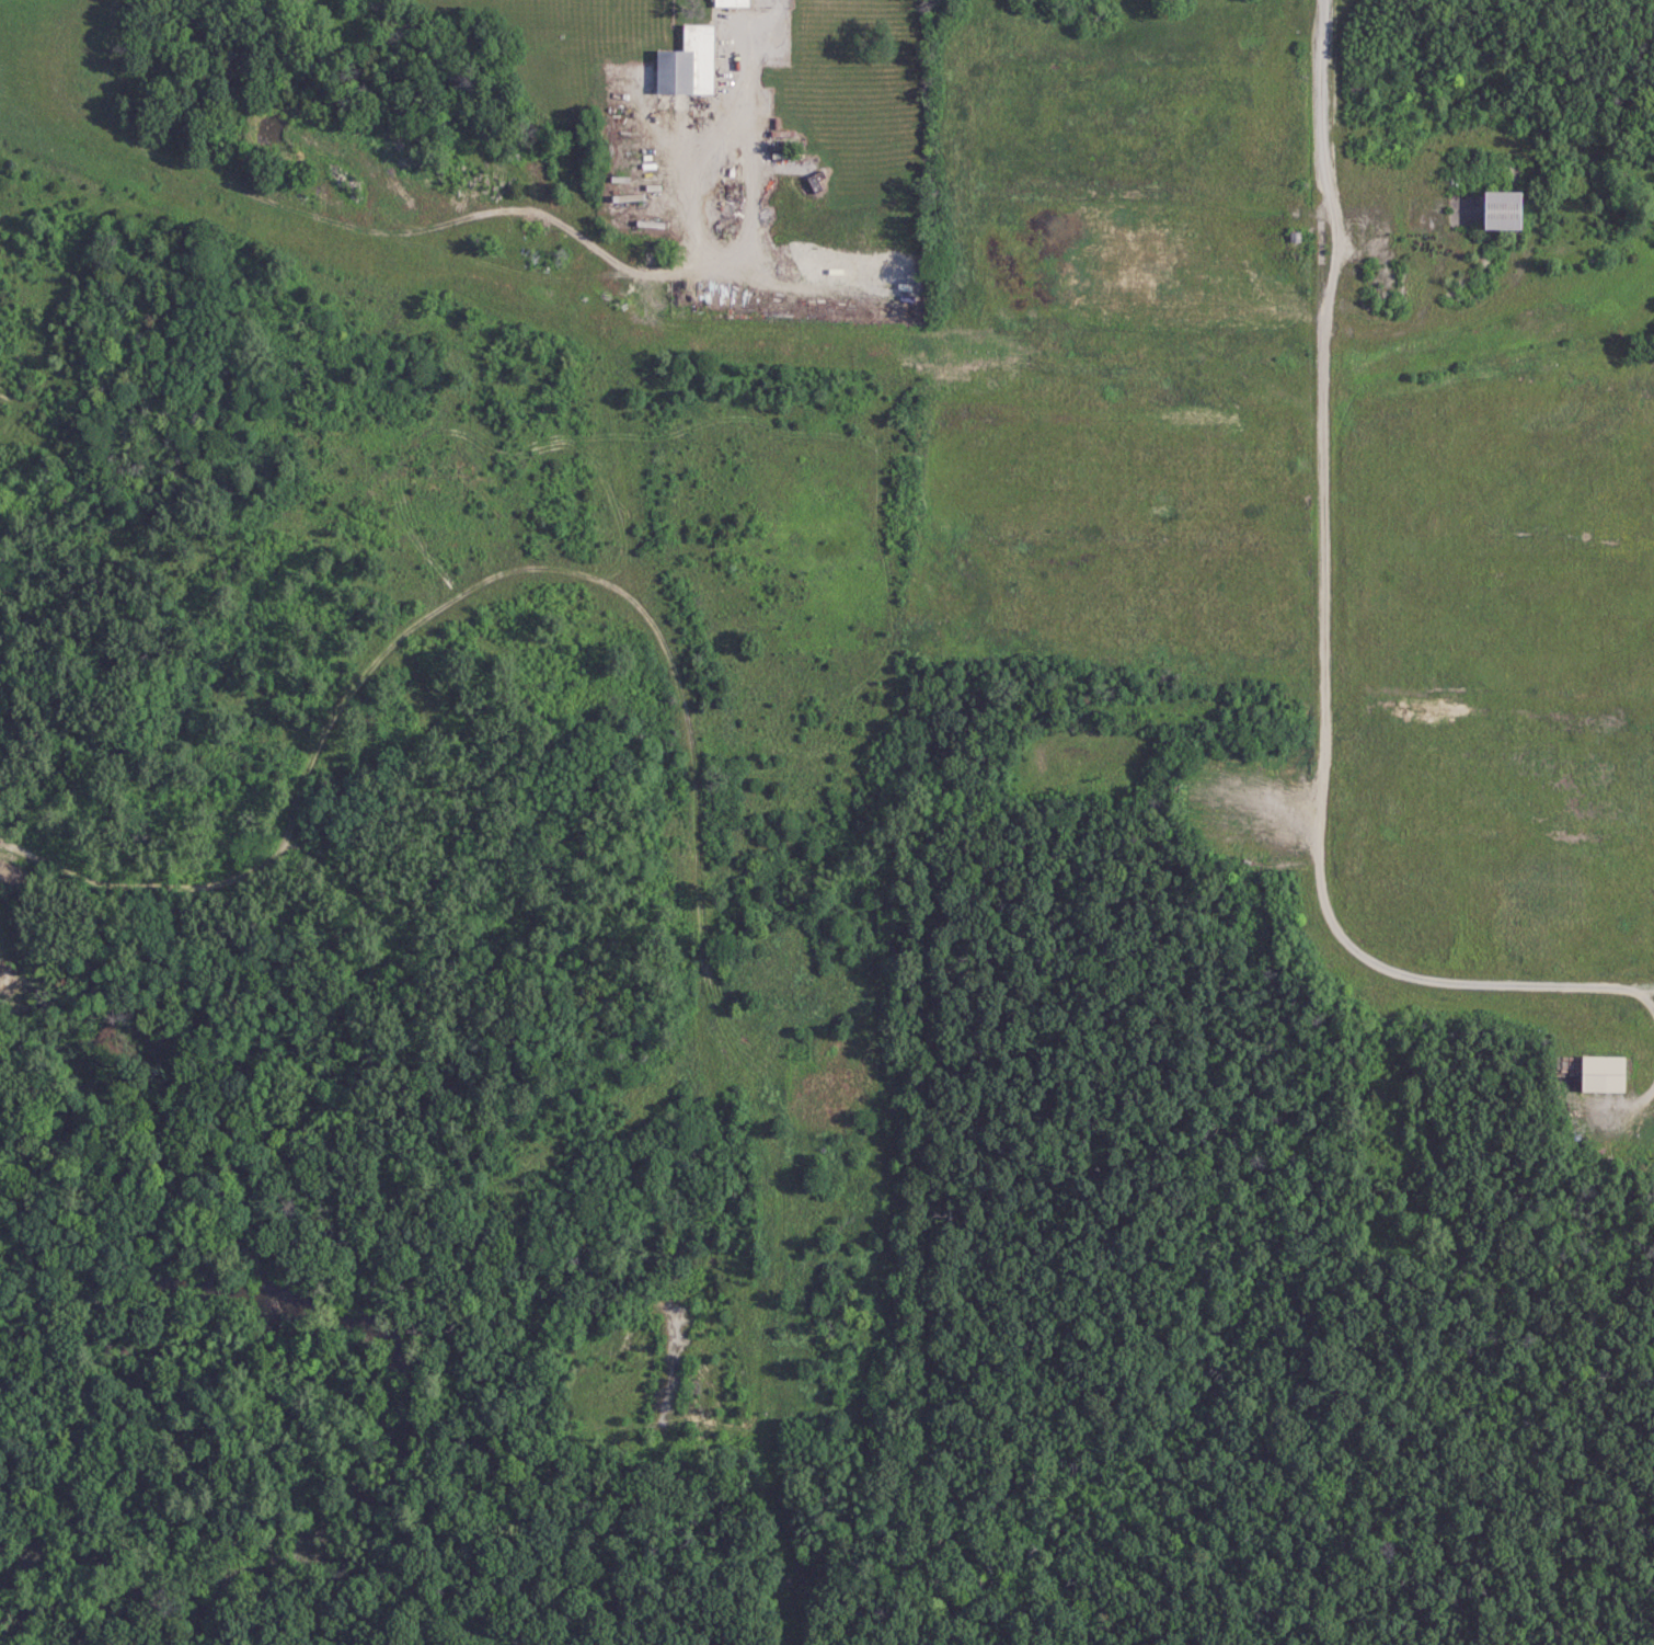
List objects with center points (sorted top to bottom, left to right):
building: (731, 2)
road: (768, 32)
building: (685, 62)
building: (814, 182)
building: (1498, 209)
road: (1328, 636)
building: (1600, 1073)

